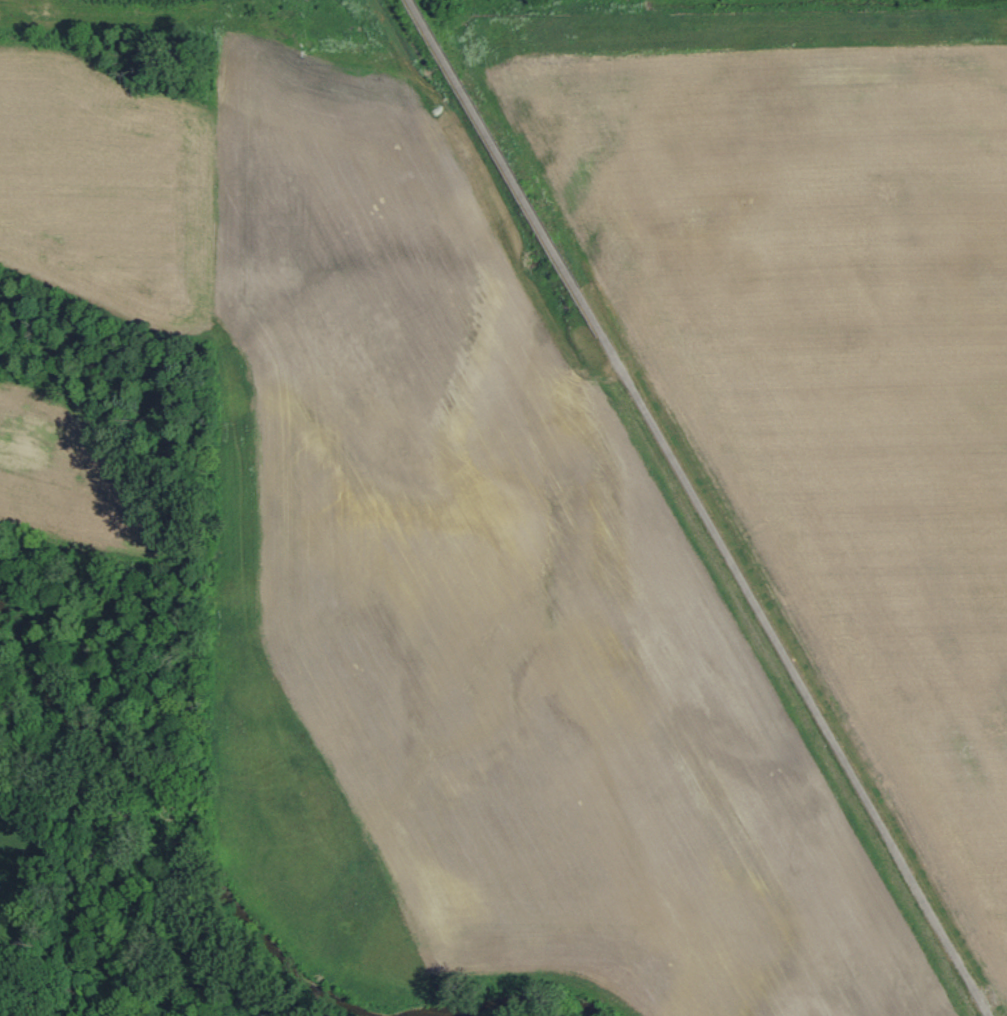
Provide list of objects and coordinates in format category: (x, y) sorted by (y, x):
road: (697, 508)

